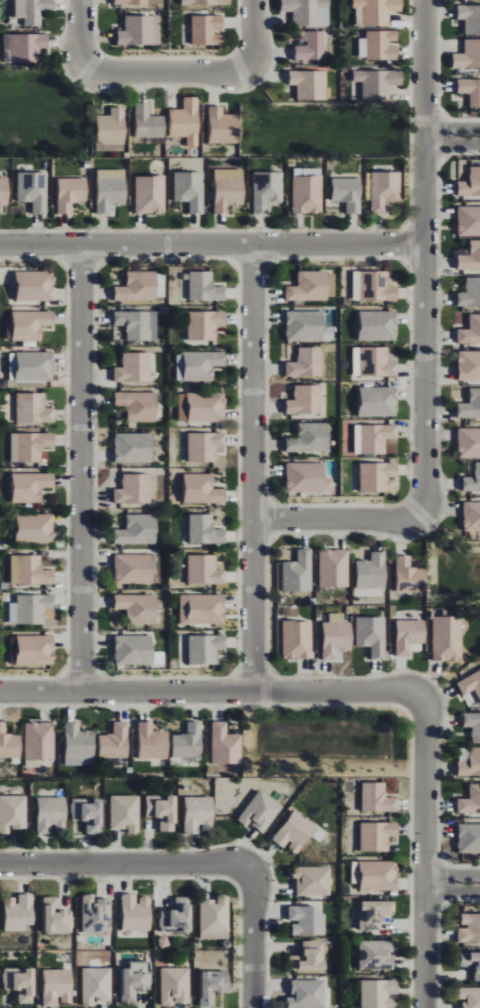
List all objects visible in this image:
building: (205, 2)
building: (135, 3)
building: (32, 10)
building: (308, 12)
building: (375, 12)
building: (470, 18)
building: (207, 30)
building: (140, 31)
road: (82, 34)
road: (253, 34)
building: (379, 46)
building: (23, 47)
building: (311, 47)
building: (468, 56)
road: (167, 72)
building: (378, 83)
building: (309, 85)
building: (470, 91)
building: (186, 121)
building: (148, 123)
building: (223, 126)
building: (111, 127)
road: (452, 128)
road: (452, 145)
building: (471, 183)
building: (110, 190)
building: (190, 190)
building: (266, 190)
building: (384, 190)
building: (4, 191)
building: (33, 191)
building: (228, 193)
building: (307, 193)
building: (347, 193)
building: (70, 194)
building: (150, 194)
building: (469, 221)
road: (212, 246)
building: (470, 257)
road: (424, 258)
building: (35, 285)
building: (137, 286)
building: (312, 286)
building: (373, 286)
building: (204, 287)
building: (470, 293)
building: (31, 324)
building: (138, 324)
building: (204, 324)
building: (378, 325)
building: (307, 326)
building: (470, 331)
building: (373, 362)
building: (305, 363)
building: (198, 365)
building: (469, 365)
building: (31, 366)
building: (134, 367)
building: (306, 400)
building: (378, 401)
building: (138, 405)
building: (470, 405)
building: (202, 407)
building: (33, 408)
building: (376, 437)
building: (310, 438)
building: (469, 443)
building: (30, 445)
building: (205, 446)
building: (134, 447)
road: (82, 469)
road: (253, 469)
building: (376, 475)
building: (307, 478)
building: (472, 480)
building: (30, 486)
building: (134, 489)
building: (203, 489)
building: (471, 516)
road: (337, 520)
building: (34, 528)
building: (138, 530)
building: (205, 530)
building: (333, 568)
building: (134, 569)
building: (30, 570)
building: (205, 570)
building: (372, 571)
building: (298, 572)
building: (409, 576)
building: (30, 608)
building: (138, 608)
building: (202, 609)
building: (371, 635)
building: (336, 636)
building: (409, 636)
building: (447, 638)
building: (297, 639)
building: (205, 648)
building: (134, 649)
building: (35, 650)
building: (470, 683)
road: (210, 693)
building: (473, 724)
building: (115, 741)
building: (189, 741)
building: (152, 742)
building: (9, 743)
building: (39, 743)
building: (226, 745)
building: (78, 746)
building: (470, 763)
building: (377, 798)
building: (470, 801)
building: (163, 810)
building: (125, 812)
building: (261, 812)
building: (13, 813)
building: (51, 813)
building: (88, 813)
building: (198, 814)
building: (295, 832)
building: (377, 836)
building: (469, 838)
road: (425, 851)
road: (125, 865)
building: (375, 875)
road: (452, 876)
building: (312, 880)
road: (452, 892)
building: (19, 912)
building: (136, 912)
building: (94, 914)
building: (375, 914)
building: (177, 916)
building: (56, 917)
building: (214, 918)
building: (307, 920)
building: (469, 928)
road: (254, 938)
building: (377, 954)
building: (313, 955)
building: (471, 962)
building: (135, 980)
building: (21, 983)
building: (97, 985)
building: (175, 985)
building: (58, 986)
building: (213, 986)
building: (379, 993)
building: (307, 994)
building: (470, 997)

